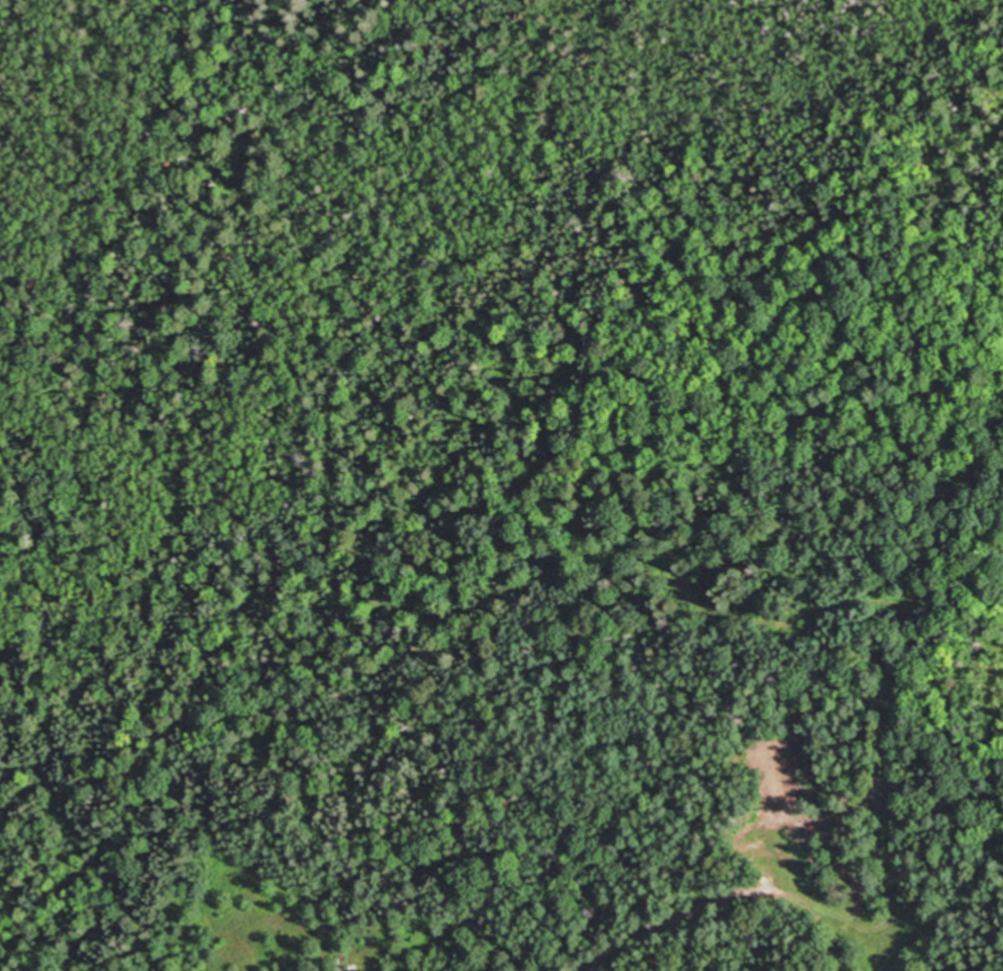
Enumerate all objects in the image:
road: (881, 924)

